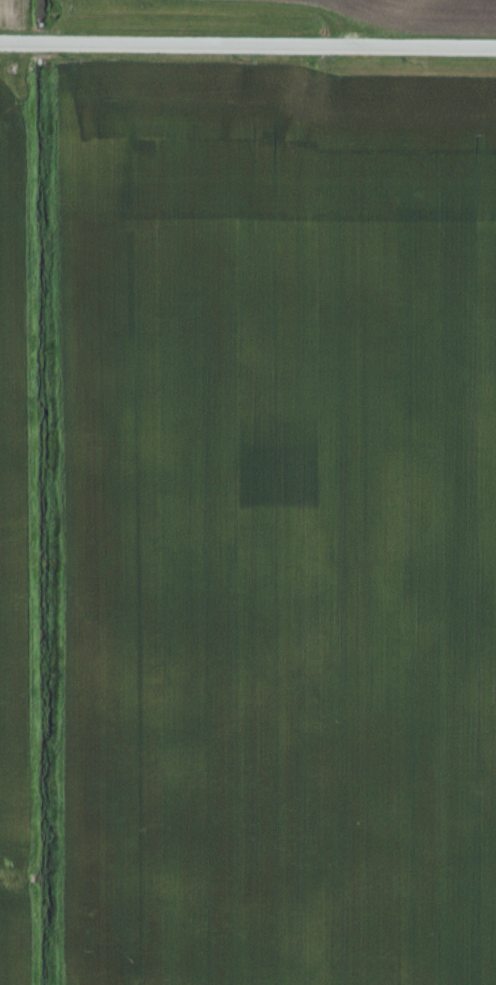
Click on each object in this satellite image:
road: (248, 46)

